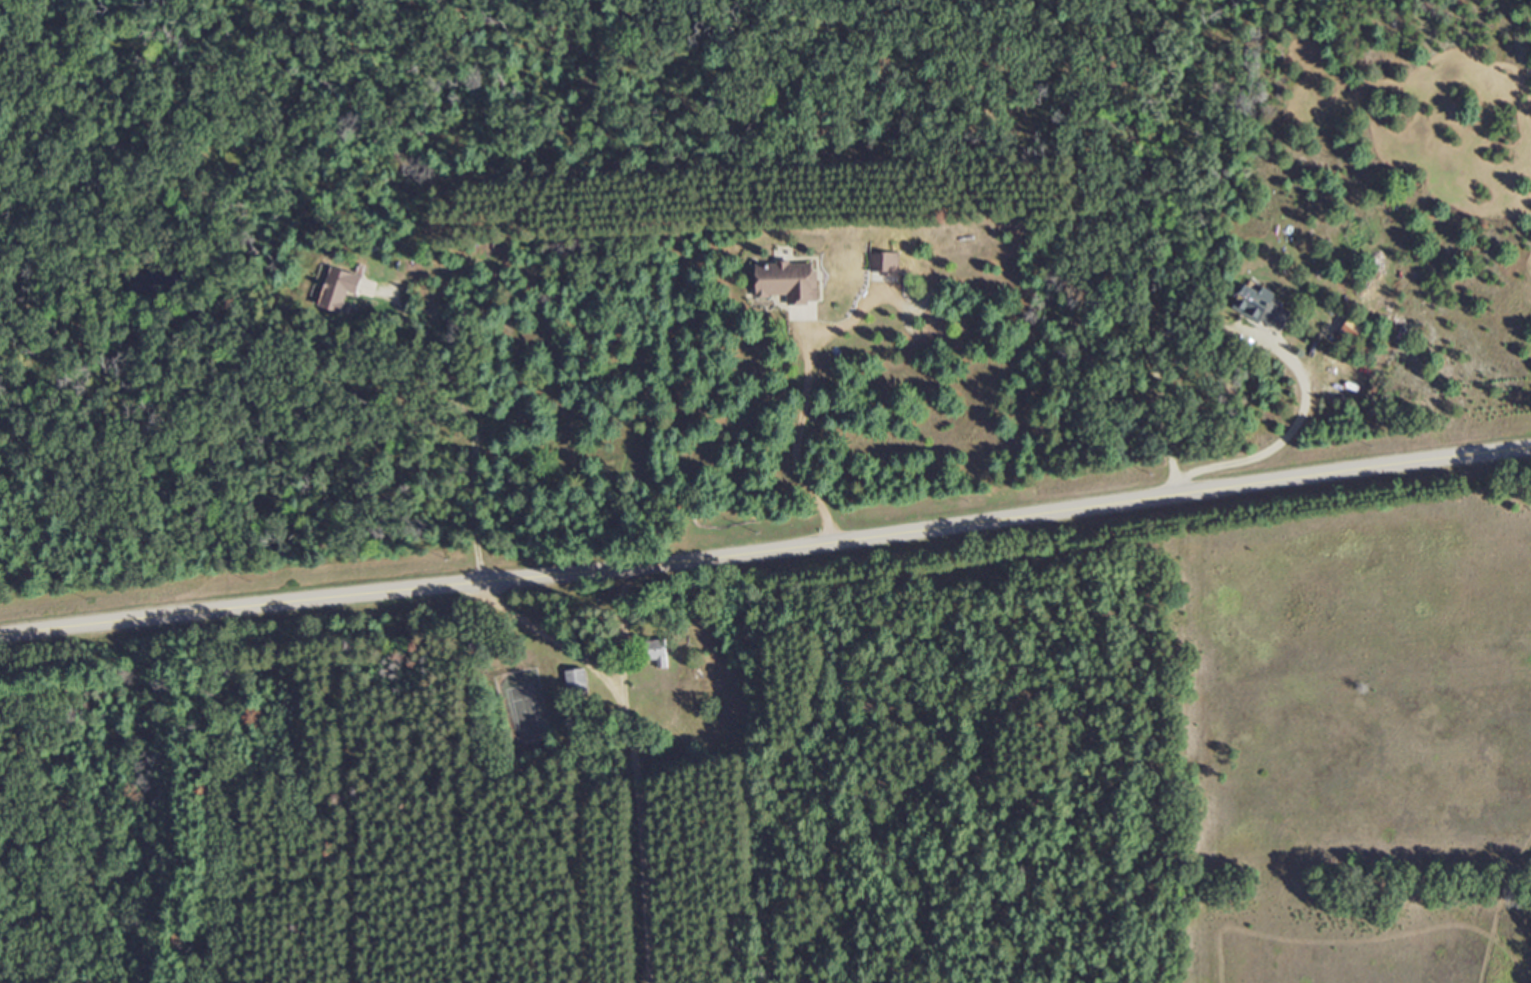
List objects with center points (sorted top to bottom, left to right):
building: (883, 263)
building: (786, 281)
building: (338, 289)
building: (1263, 307)
road: (1150, 350)
road: (798, 401)
road: (462, 421)
road: (1270, 444)
road: (766, 547)
building: (659, 656)
building: (574, 679)
road: (909, 734)
road: (629, 751)
road: (1082, 933)

